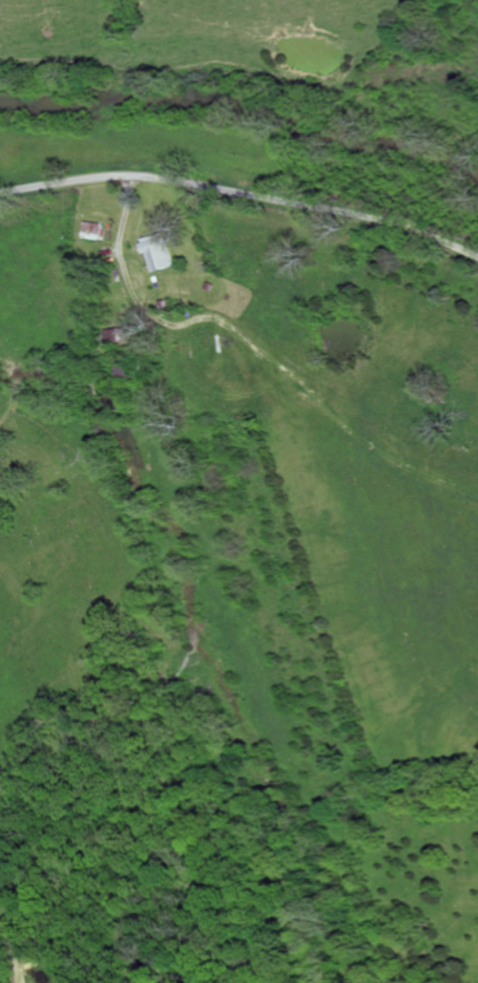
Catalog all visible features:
road: (242, 194)
building: (93, 231)
building: (157, 253)

